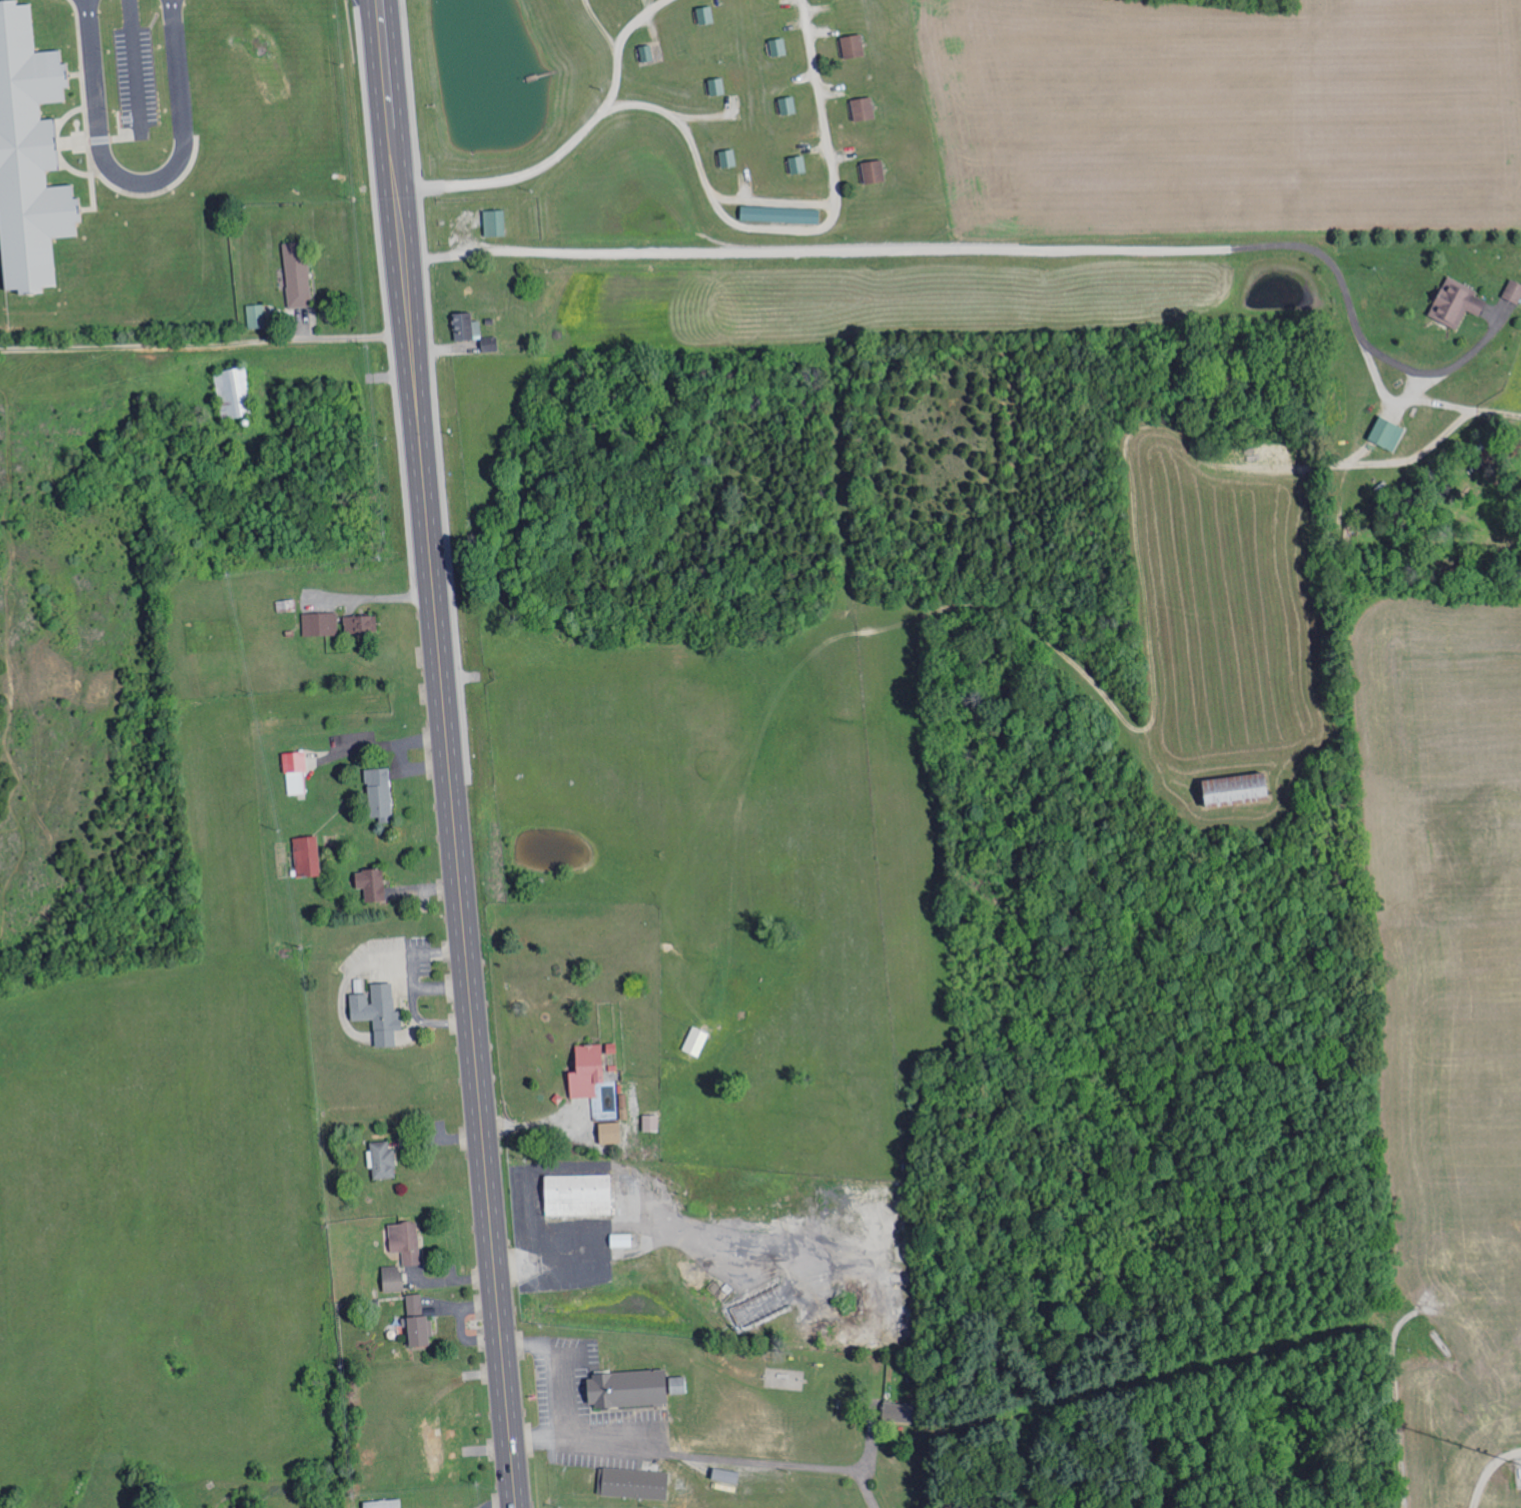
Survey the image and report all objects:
building: (706, 15)
building: (855, 46)
building: (779, 47)
road: (133, 66)
building: (864, 109)
building: (30, 157)
building: (729, 158)
building: (799, 165)
building: (874, 172)
road: (139, 179)
building: (782, 215)
building: (495, 223)
road: (846, 251)
building: (298, 274)
building: (1514, 290)
building: (1457, 302)
building: (256, 316)
building: (466, 327)
road: (203, 341)
building: (235, 392)
building: (1389, 432)
road: (804, 618)
building: (320, 623)
building: (362, 623)
road: (448, 753)
building: (296, 772)
building: (1243, 790)
building: (380, 792)
building: (308, 855)
building: (373, 883)
building: (380, 1011)
building: (697, 1041)
building: (589, 1070)
building: (652, 1122)
building: (612, 1132)
building: (383, 1159)
building: (580, 1194)
building: (623, 1240)
building: (406, 1241)
building: (393, 1278)
building: (419, 1321)
road: (1390, 1353)
building: (634, 1388)
building: (897, 1412)
building: (435, 1449)
building: (634, 1482)
building: (384, 1504)

